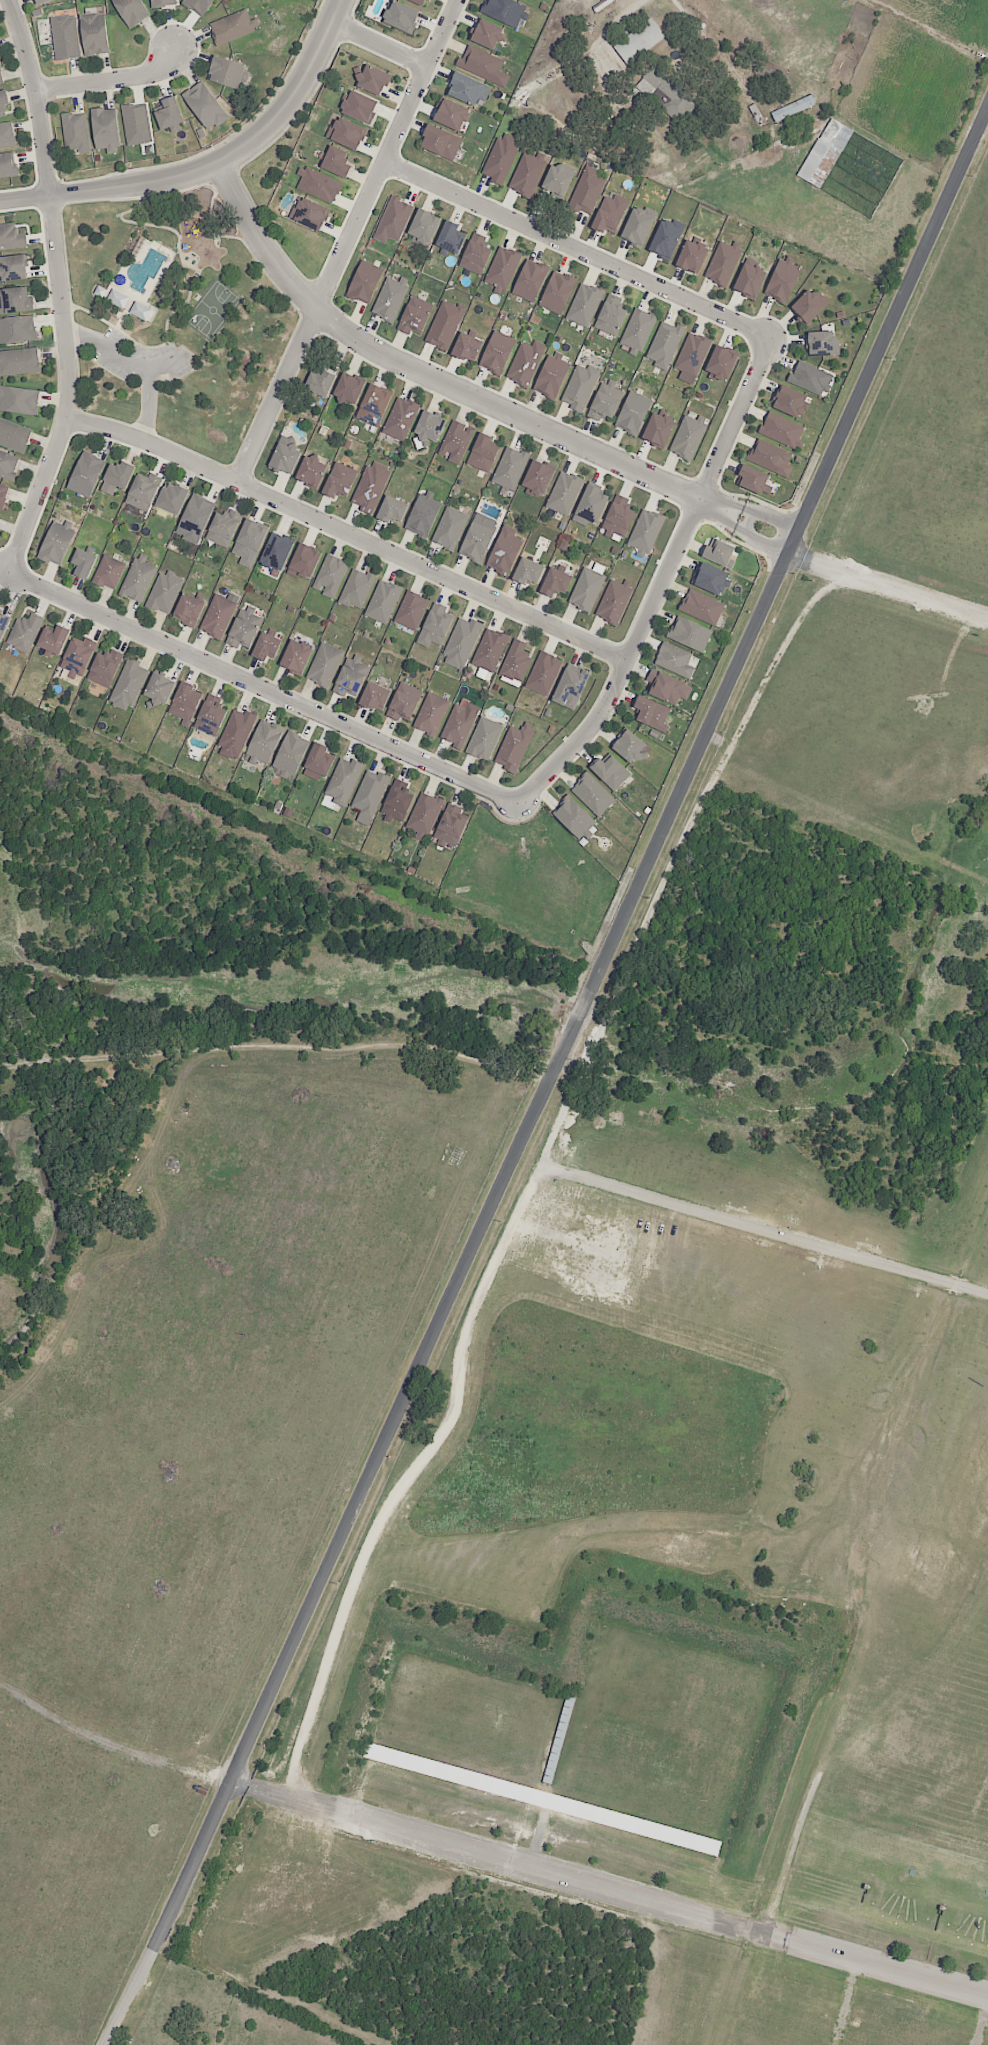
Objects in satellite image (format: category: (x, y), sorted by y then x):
building: (45, 2)
building: (419, 2)
building: (162, 3)
building: (198, 5)
building: (132, 10)
building: (503, 10)
building: (402, 13)
building: (231, 28)
building: (485, 32)
building: (93, 36)
building: (66, 37)
road: (380, 39)
building: (639, 41)
road: (586, 46)
building: (480, 61)
building: (225, 73)
building: (1, 76)
building: (370, 78)
road: (112, 80)
building: (462, 87)
building: (666, 93)
building: (3, 102)
building: (204, 106)
building: (357, 106)
building: (793, 107)
building: (449, 112)
building: (168, 115)
building: (137, 126)
building: (105, 130)
building: (73, 131)
building: (345, 132)
building: (7, 136)
building: (439, 141)
building: (824, 152)
building: (498, 158)
building: (334, 160)
road: (212, 164)
building: (8, 166)
building: (524, 171)
building: (556, 179)
building: (320, 184)
building: (587, 186)
building: (307, 212)
building: (610, 212)
building: (394, 218)
building: (424, 225)
building: (636, 225)
building: (664, 236)
building: (450, 238)
building: (12, 239)
road: (347, 240)
road: (576, 250)
building: (477, 255)
building: (690, 255)
building: (723, 264)
building: (502, 266)
building: (11, 267)
building: (531, 276)
building: (746, 279)
building: (780, 280)
building: (364, 281)
road: (60, 289)
building: (556, 289)
building: (16, 298)
building: (388, 299)
building: (129, 303)
building: (584, 303)
building: (805, 305)
park: (213, 311)
building: (417, 314)
building: (612, 317)
park: (172, 319)
building: (445, 322)
building: (639, 327)
building: (18, 331)
building: (666, 340)
building: (817, 342)
building: (464, 345)
building: (693, 351)
building: (498, 352)
building: (19, 361)
road: (125, 361)
building: (720, 361)
building: (525, 364)
road: (429, 376)
building: (809, 376)
building: (550, 377)
building: (319, 381)
building: (579, 388)
building: (346, 389)
building: (19, 400)
building: (606, 400)
building: (788, 401)
road: (148, 404)
building: (374, 404)
building: (632, 413)
building: (402, 417)
building: (430, 425)
building: (658, 427)
building: (780, 429)
building: (13, 434)
building: (688, 436)
building: (456, 441)
building: (482, 454)
building: (770, 456)
building: (284, 457)
building: (510, 467)
building: (7, 468)
building: (310, 471)
building: (86, 474)
building: (120, 474)
building: (538, 478)
building: (340, 479)
building: (751, 479)
building: (370, 488)
building: (143, 490)
building: (2, 492)
building: (563, 493)
building: (173, 498)
building: (590, 504)
road: (733, 507)
building: (391, 510)
building: (422, 513)
building: (618, 514)
building: (197, 517)
road: (777, 517)
road: (728, 519)
road: (750, 521)
building: (225, 527)
building: (449, 528)
road: (349, 532)
building: (645, 532)
building: (478, 539)
building: (250, 540)
building: (57, 542)
road: (764, 545)
building: (276, 550)
building: (506, 551)
building: (717, 553)
building: (304, 558)
building: (83, 562)
building: (109, 571)
building: (529, 573)
building: (330, 574)
building: (710, 578)
building: (137, 579)
building: (555, 581)
road: (660, 585)
road: (887, 585)
building: (356, 587)
building: (586, 589)
building: (164, 591)
building: (382, 599)
building: (613, 599)
building: (701, 607)
building: (188, 608)
building: (413, 610)
building: (218, 617)
building: (3, 623)
building: (434, 624)
building: (243, 630)
building: (24, 633)
building: (689, 634)
building: (464, 637)
building: (53, 639)
building: (265, 645)
building: (491, 648)
building: (77, 655)
building: (297, 656)
building: (674, 660)
building: (324, 663)
building: (516, 663)
building: (103, 667)
building: (543, 673)
building: (350, 676)
building: (129, 682)
building: (570, 686)
road: (260, 687)
building: (664, 687)
building: (159, 688)
building: (371, 695)
building: (403, 700)
building: (184, 704)
building: (430, 712)
building: (650, 714)
building: (209, 719)
building: (458, 723)
building: (236, 731)
building: (264, 739)
building: (483, 739)
building: (628, 746)
building: (513, 747)
building: (289, 754)
building: (317, 763)
building: (609, 769)
building: (342, 780)
building: (590, 792)
building: (369, 793)
building: (397, 800)
building: (424, 813)
building: (571, 817)
building: (450, 825)
road: (272, 1047)
road: (550, 1072)
road: (492, 1267)
park: (471, 1723)
park: (662, 1740)
road: (609, 1884)

